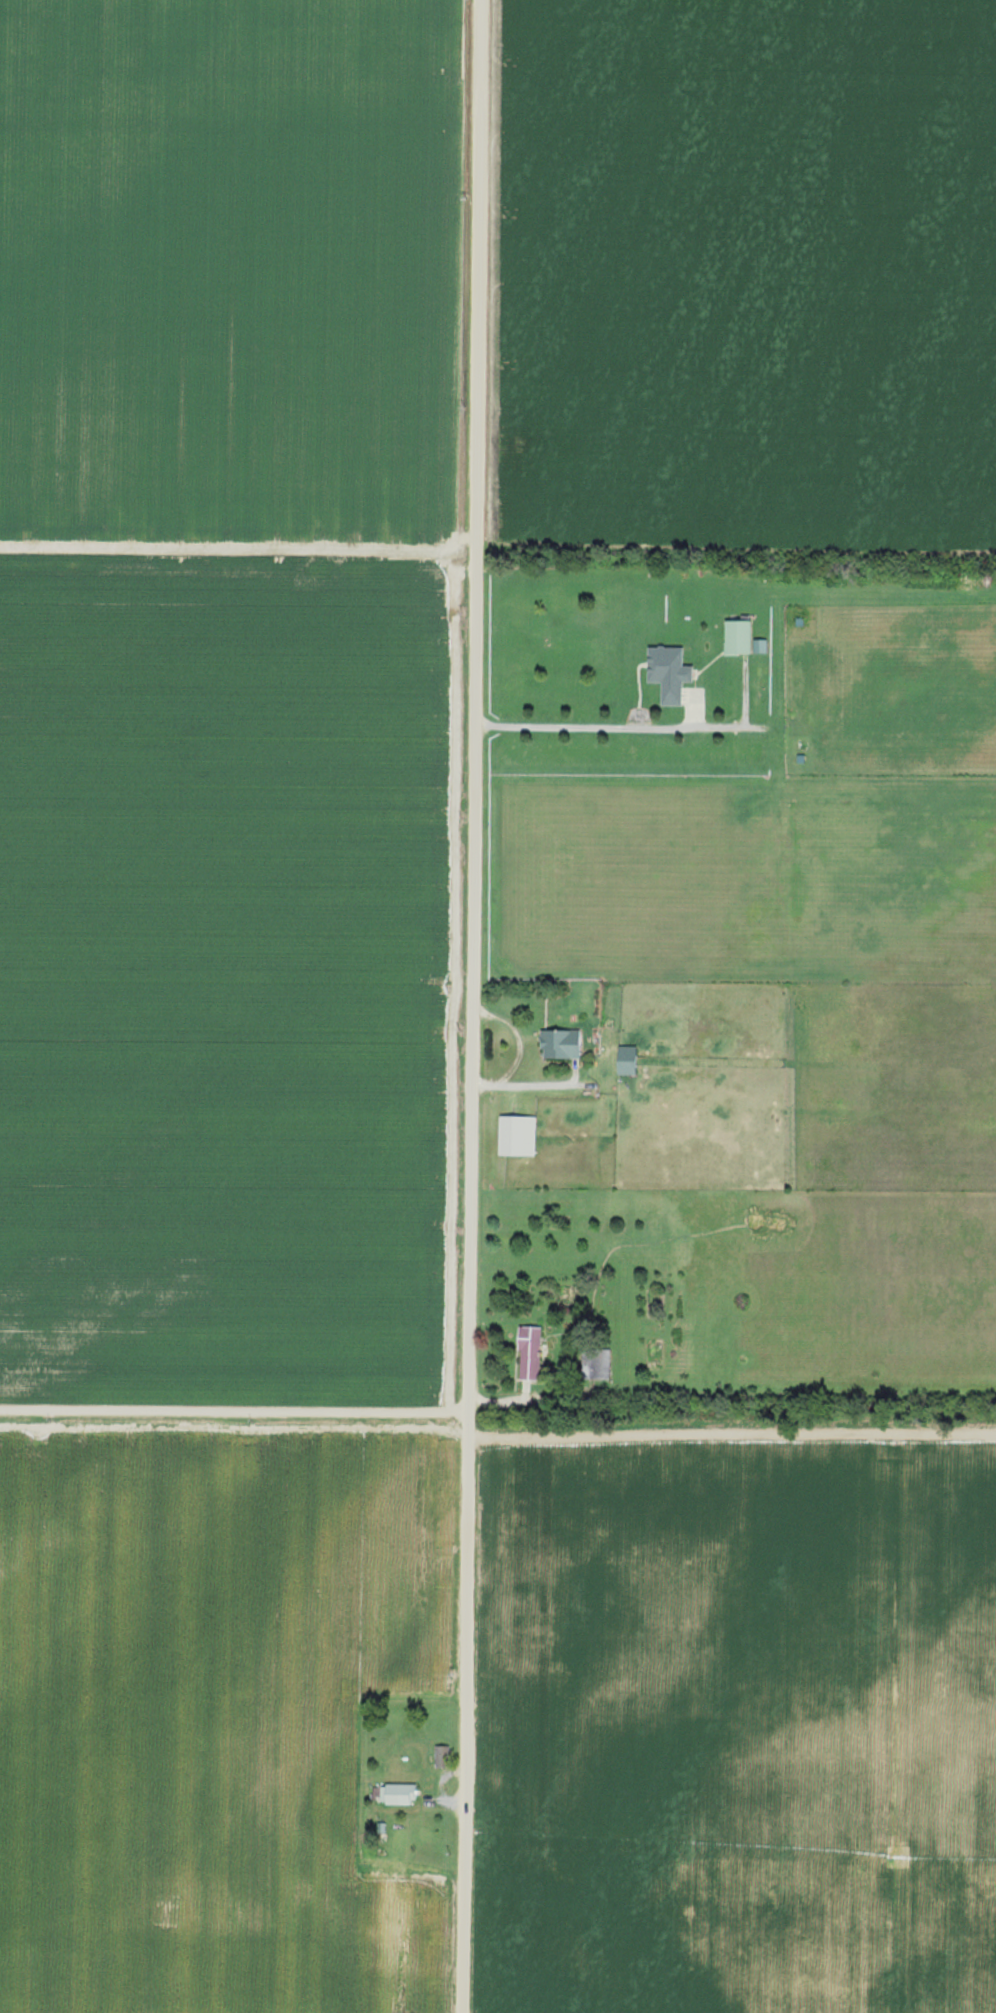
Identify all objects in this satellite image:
building: (737, 636)
building: (667, 672)
road: (646, 727)
road: (474, 1006)
building: (559, 1044)
building: (625, 1060)
building: (516, 1136)
building: (529, 1351)
road: (519, 1402)
road: (235, 1413)
road: (733, 1438)
road: (730, 1636)
building: (397, 1794)

